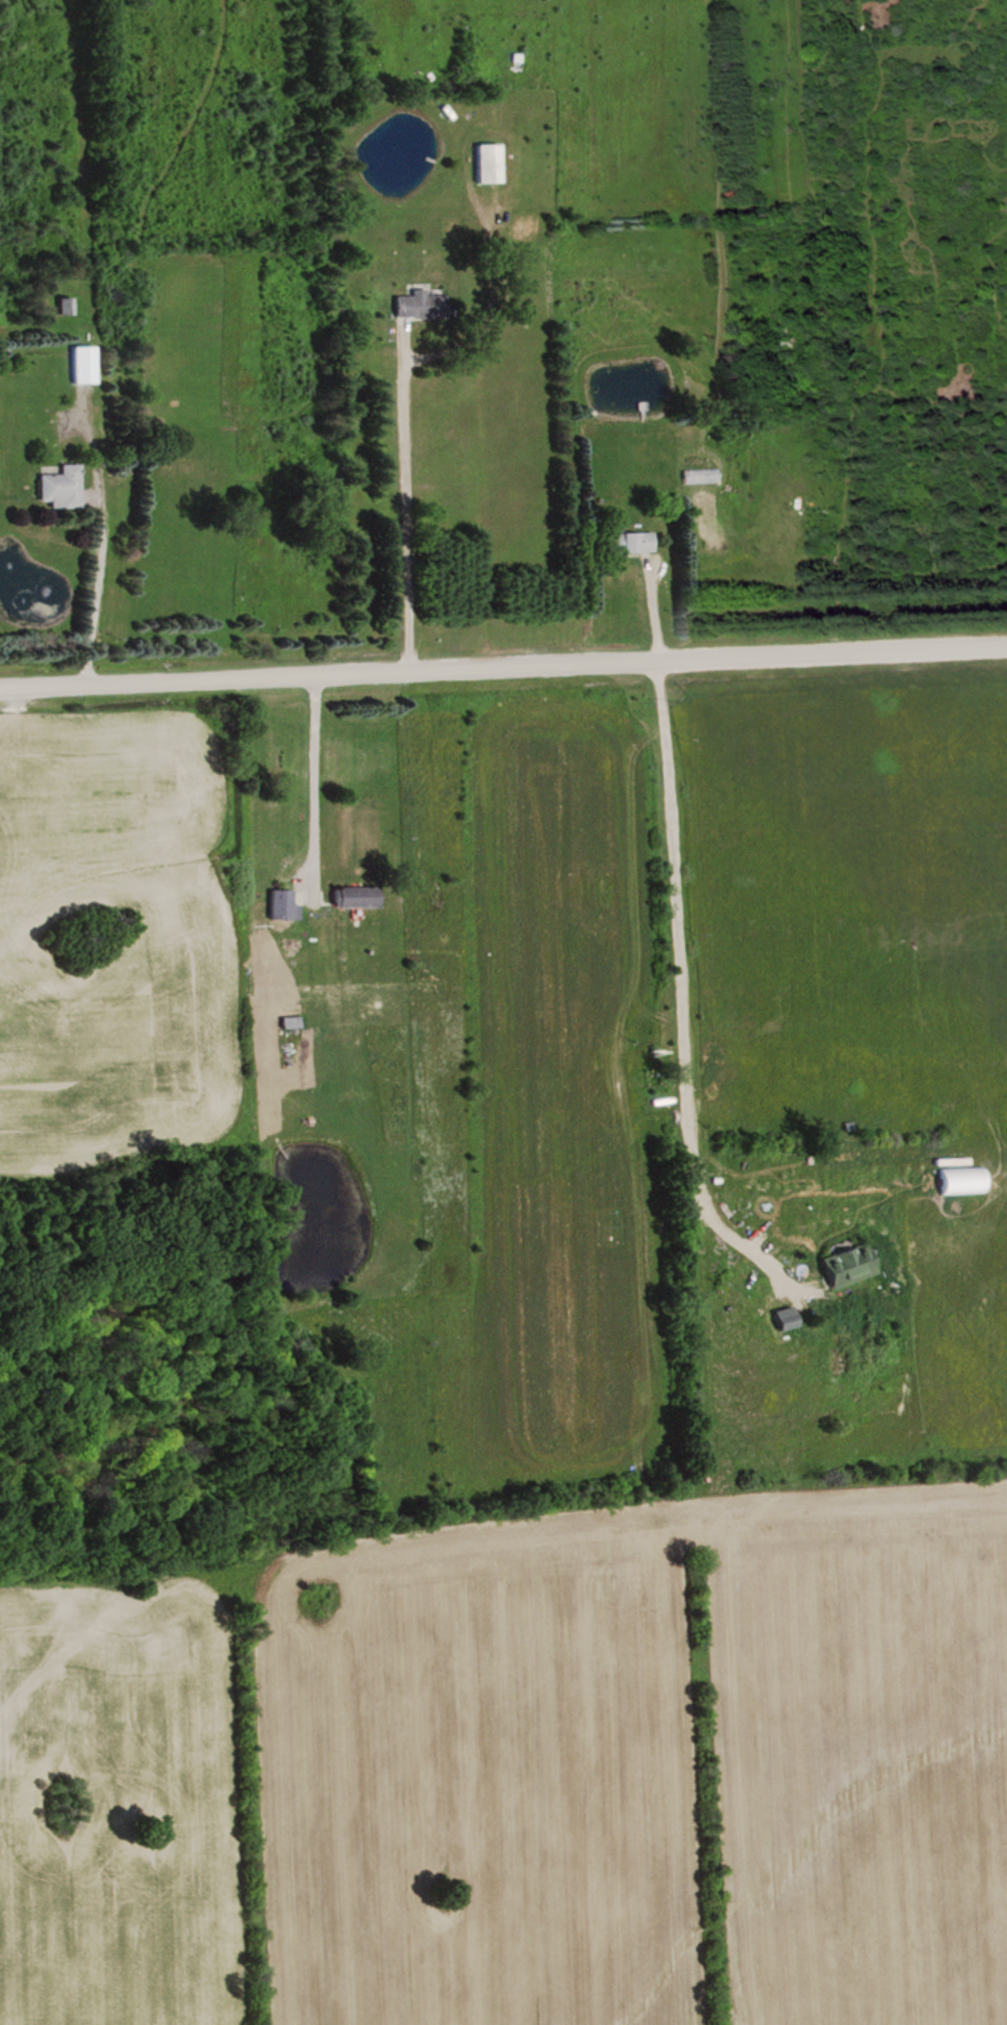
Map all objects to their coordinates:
building: (490, 161)
building: (422, 303)
building: (67, 305)
building: (85, 363)
building: (63, 486)
building: (629, 539)
road: (503, 666)
building: (358, 896)
building: (284, 903)
building: (292, 1021)
building: (852, 1265)
building: (789, 1317)

